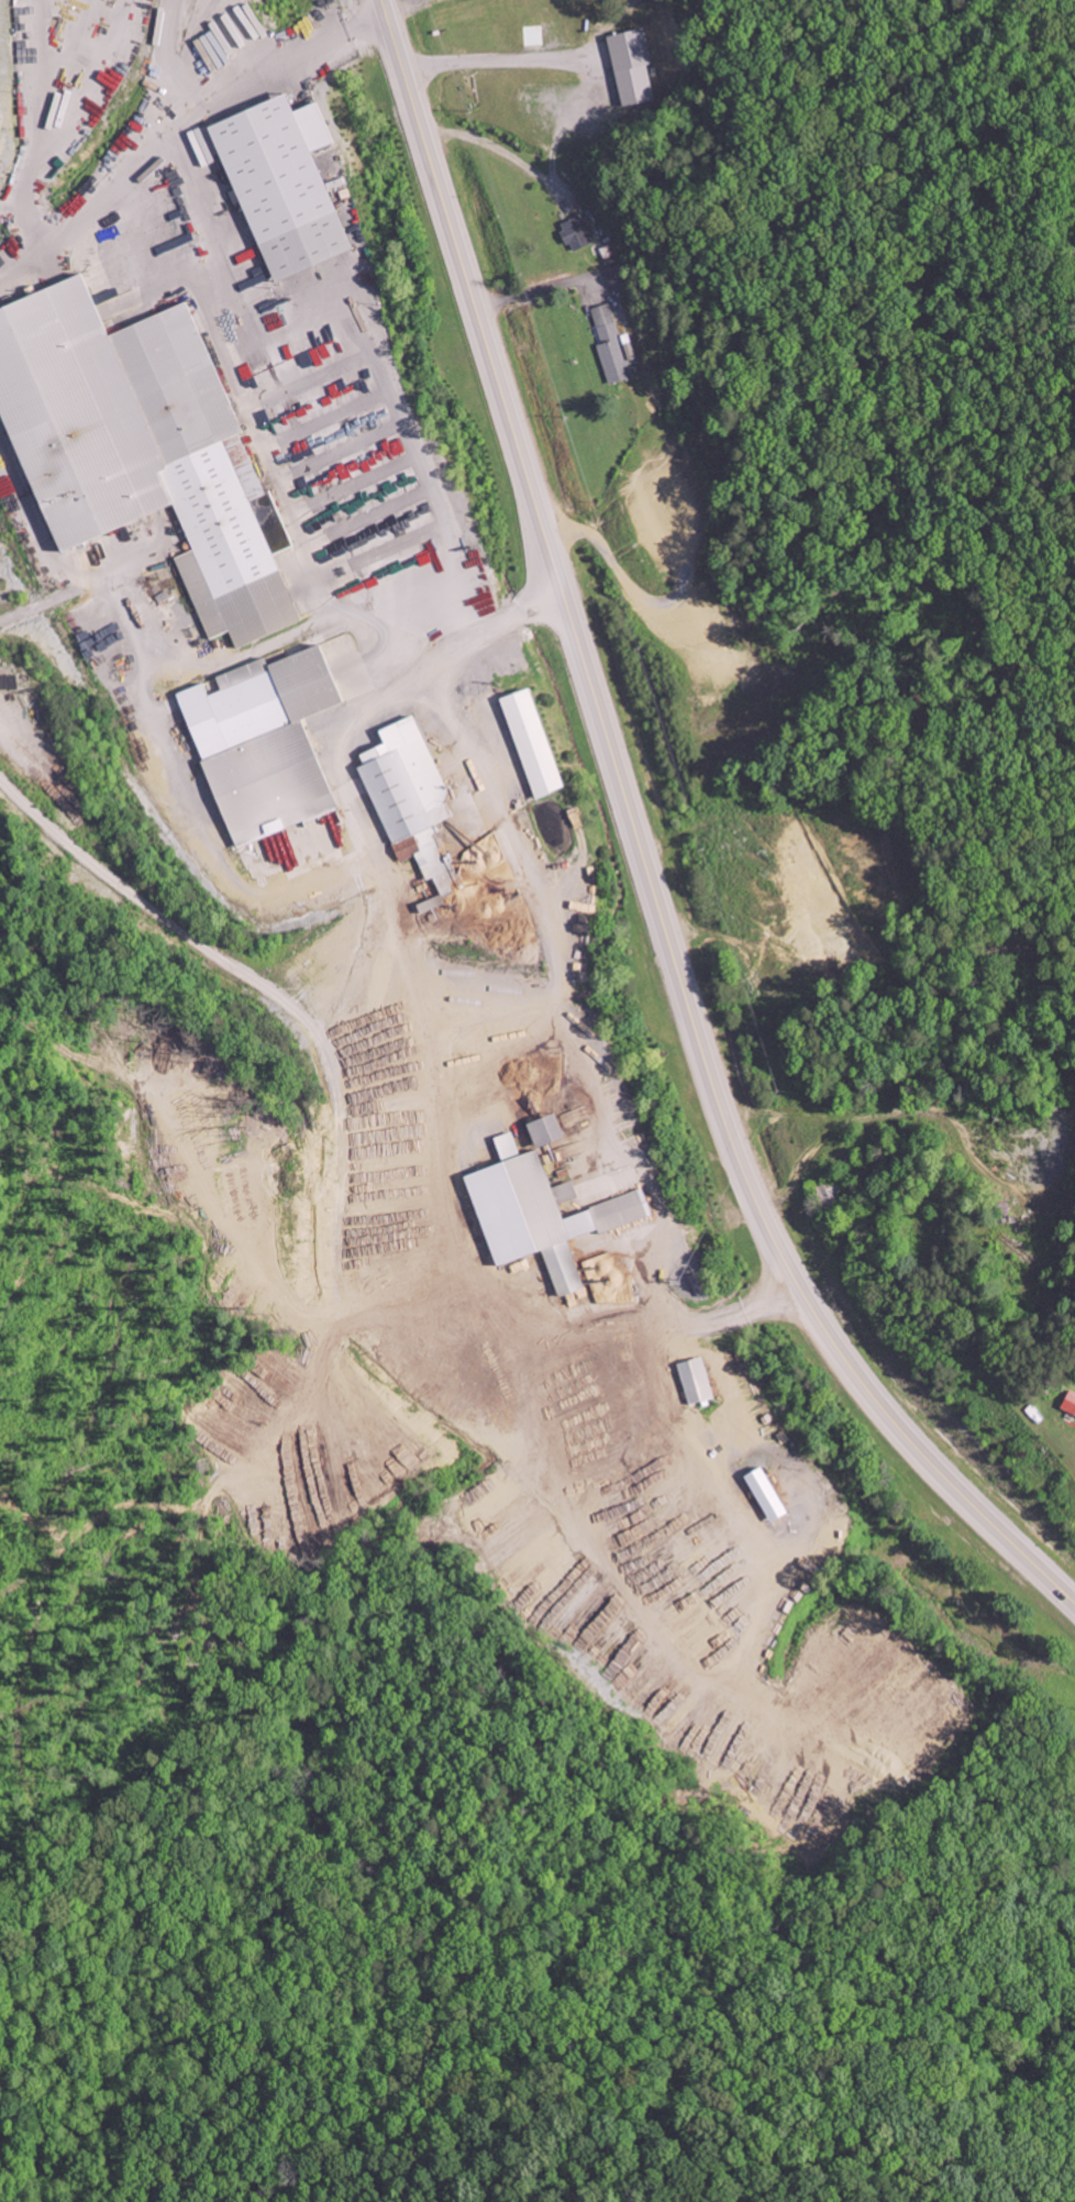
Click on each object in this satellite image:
road: (497, 59)
building: (634, 65)
road: (178, 121)
building: (289, 185)
building: (578, 233)
building: (611, 344)
building: (144, 446)
road: (595, 519)
building: (267, 742)
building: (537, 743)
building: (409, 786)
road: (640, 850)
building: (554, 1128)
building: (532, 1144)
building: (546, 1213)
building: (701, 1283)
building: (699, 1380)
building: (1070, 1402)
building: (772, 1493)

